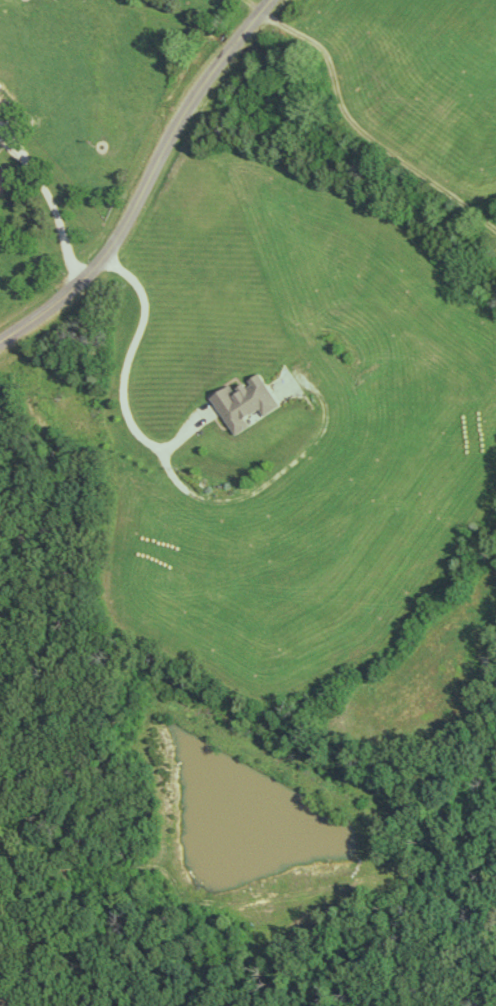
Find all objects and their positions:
building: (3, 177)
road: (144, 181)
road: (45, 207)
road: (116, 384)
building: (243, 402)

